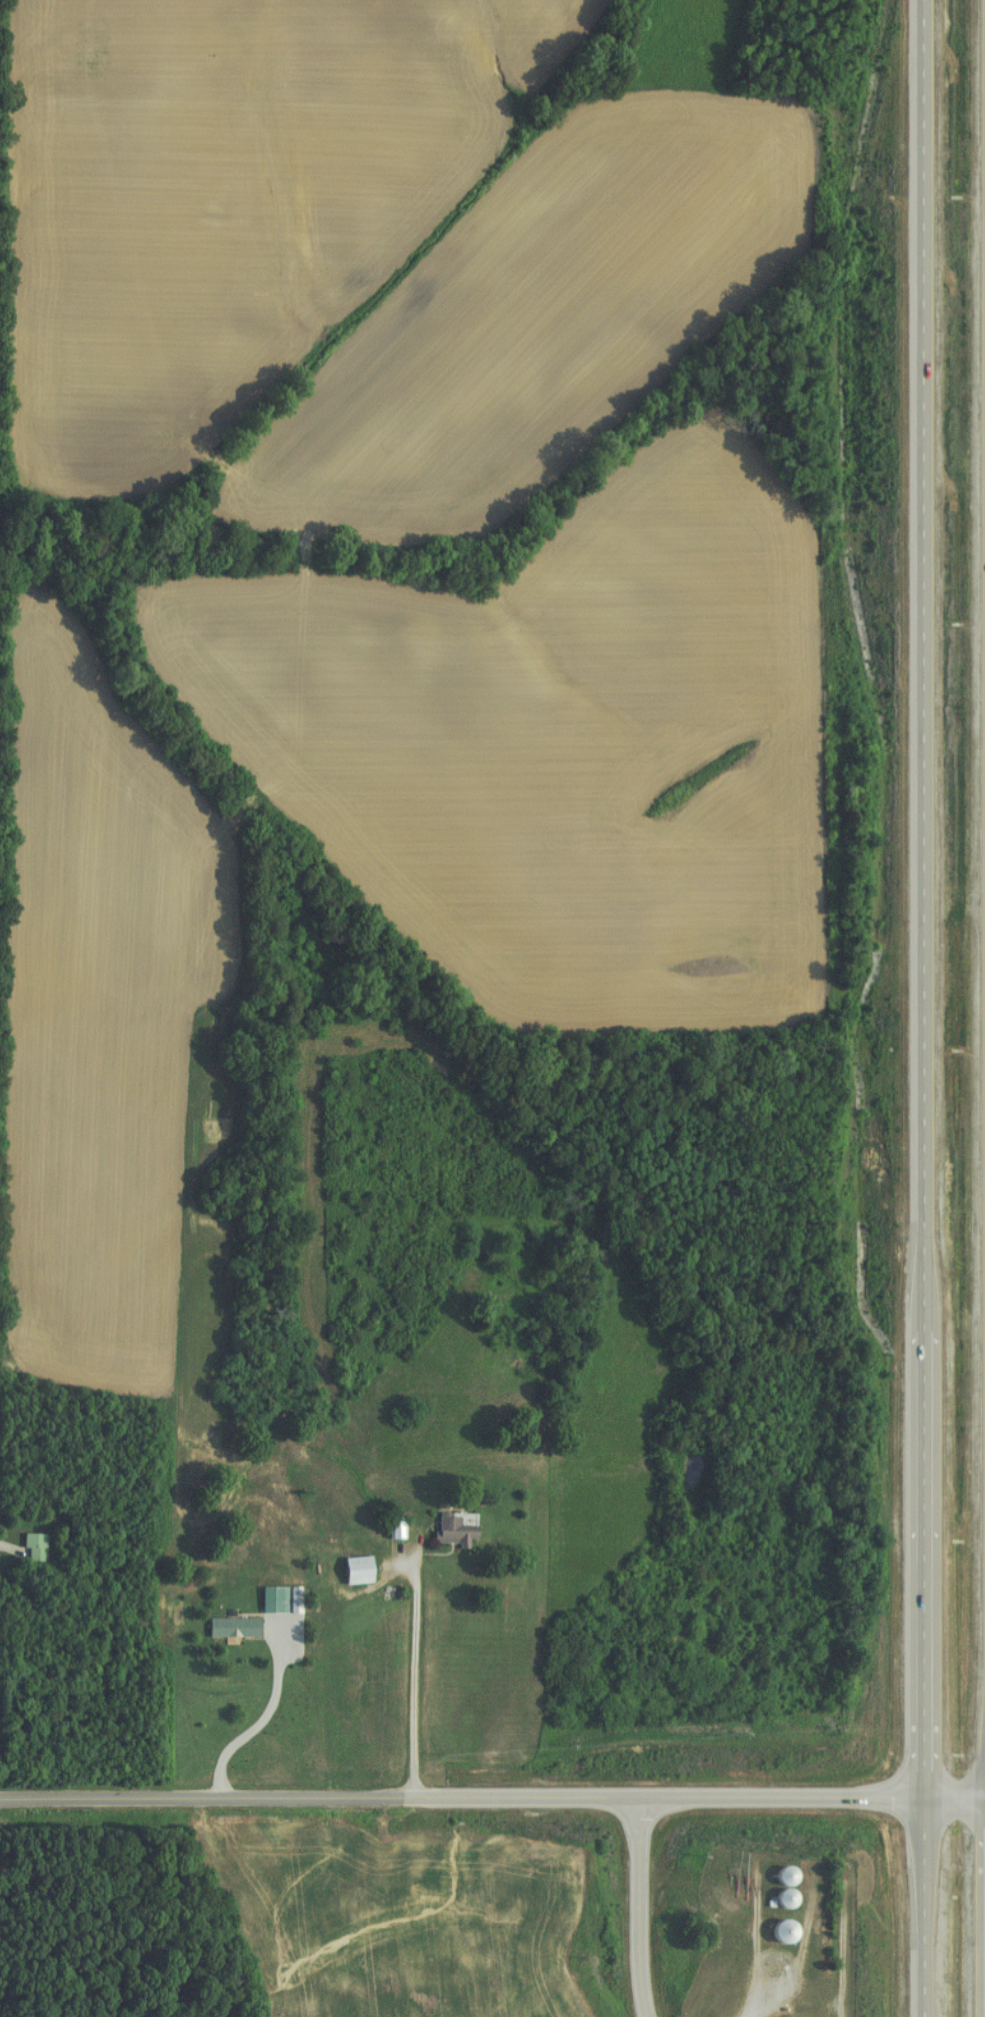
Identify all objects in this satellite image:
road: (918, 1008)
building: (391, 1529)
building: (449, 1531)
building: (31, 1547)
building: (343, 1572)
building: (229, 1628)
road: (410, 1672)
road: (262, 1716)
road: (492, 1796)
building: (780, 1876)
building: (780, 1898)
road: (634, 1906)
building: (778, 1931)

